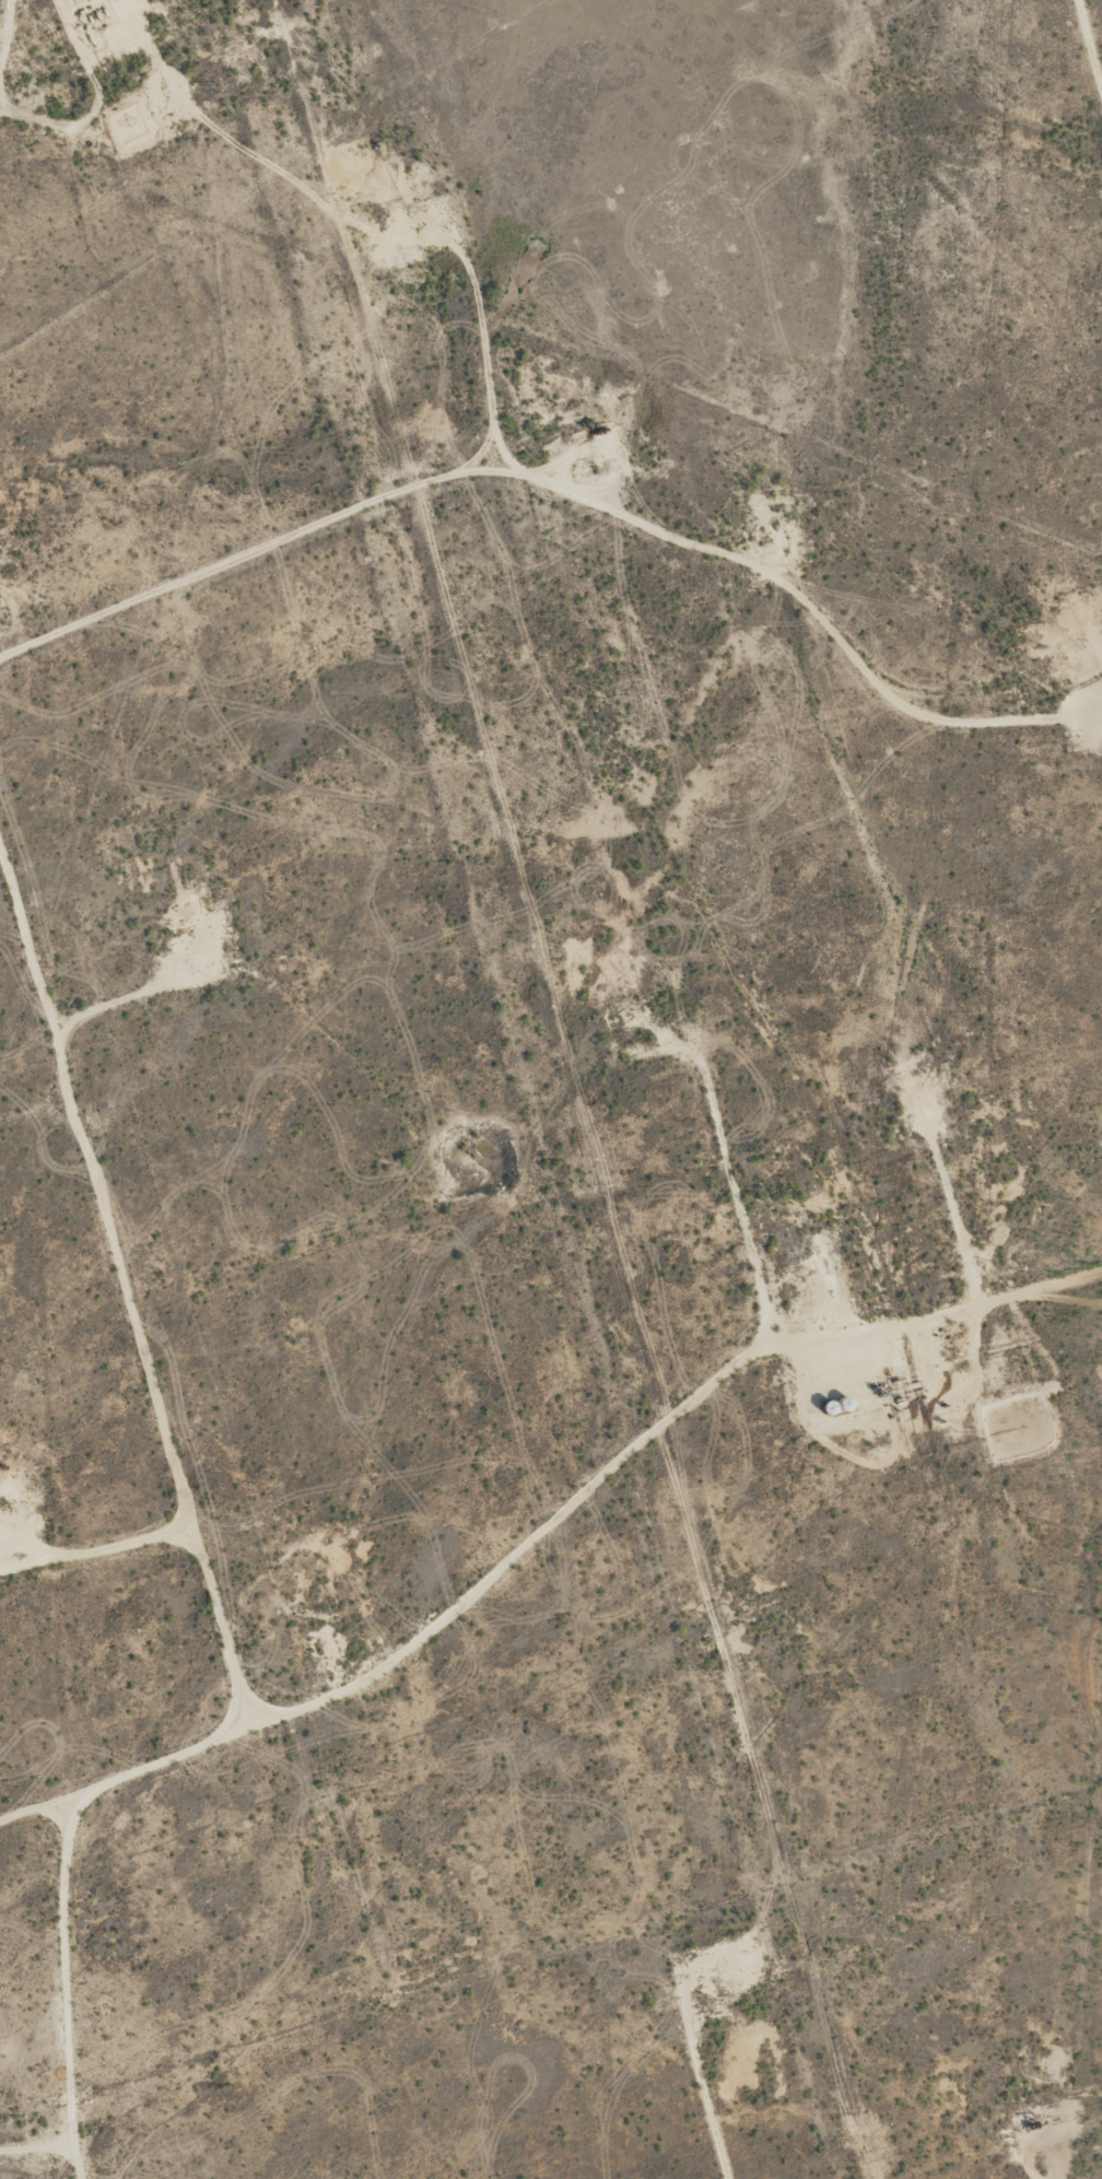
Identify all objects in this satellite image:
road: (1090, 2176)

